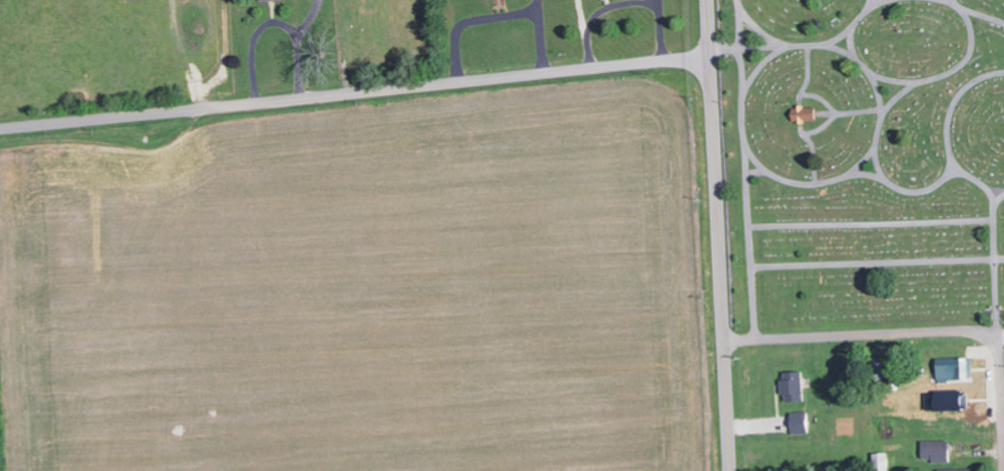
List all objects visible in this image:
road: (881, 1)
road: (950, 1)
road: (983, 16)
road: (854, 21)
road: (755, 24)
road: (741, 30)
road: (957, 67)
road: (762, 68)
road: (354, 93)
road: (898, 97)
road: (881, 102)
road: (954, 105)
road: (836, 111)
road: (859, 111)
building: (804, 113)
park: (864, 159)
road: (714, 169)
road: (865, 173)
road: (931, 186)
road: (747, 193)
road: (999, 198)
road: (872, 222)
road: (877, 262)
road: (996, 267)
road: (906, 332)
road: (994, 334)
building: (954, 368)
building: (791, 385)
building: (951, 399)
road: (724, 405)
building: (798, 421)
building: (936, 450)
building: (881, 461)
building: (960, 469)

